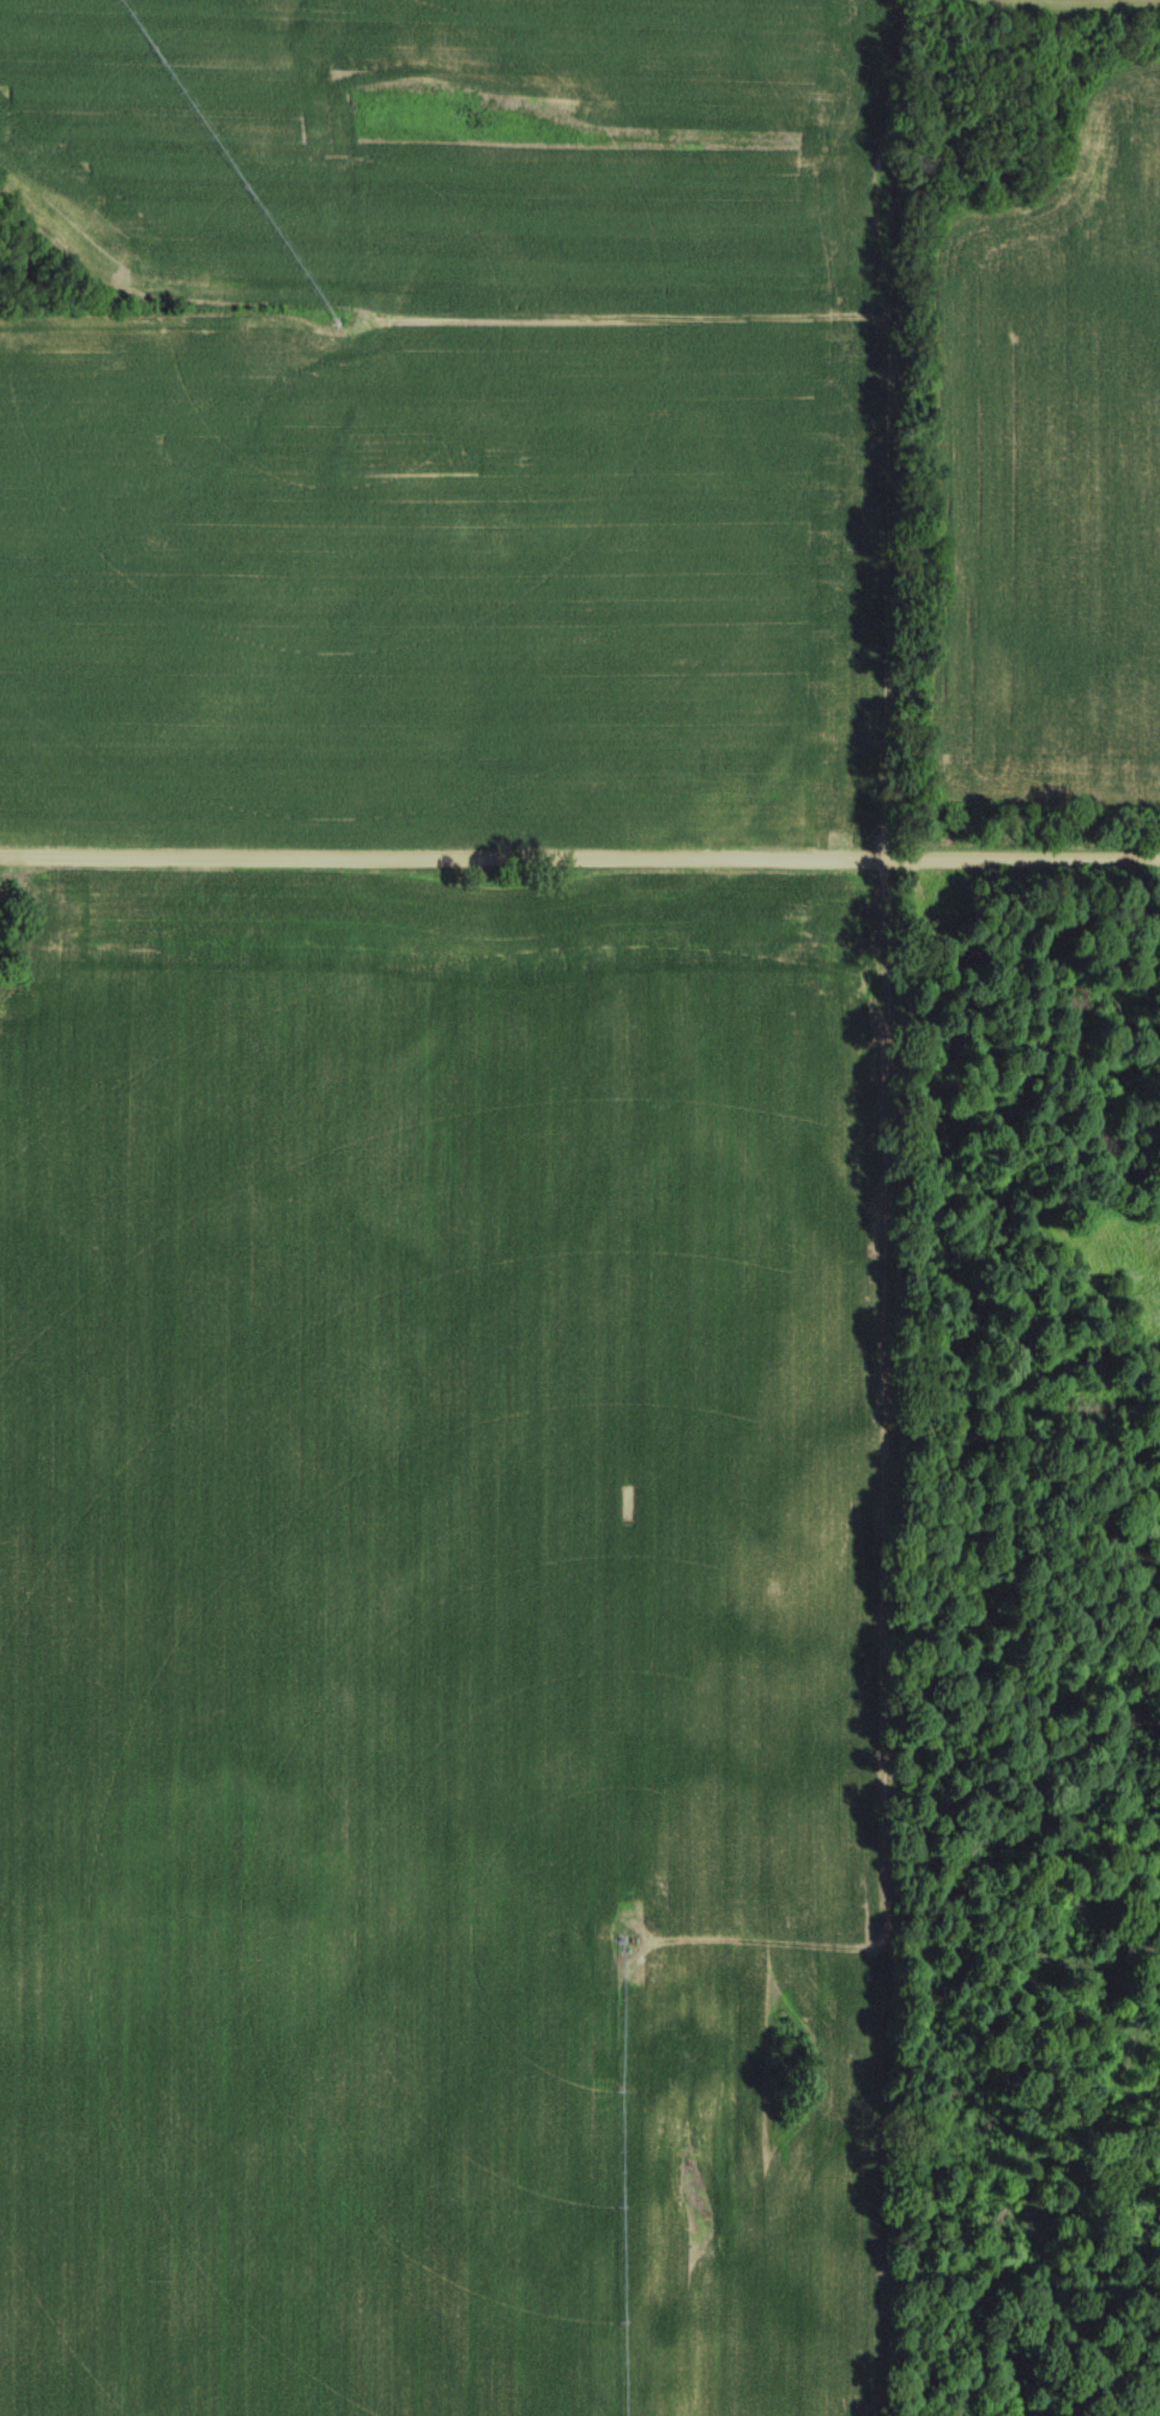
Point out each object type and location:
road: (580, 858)

